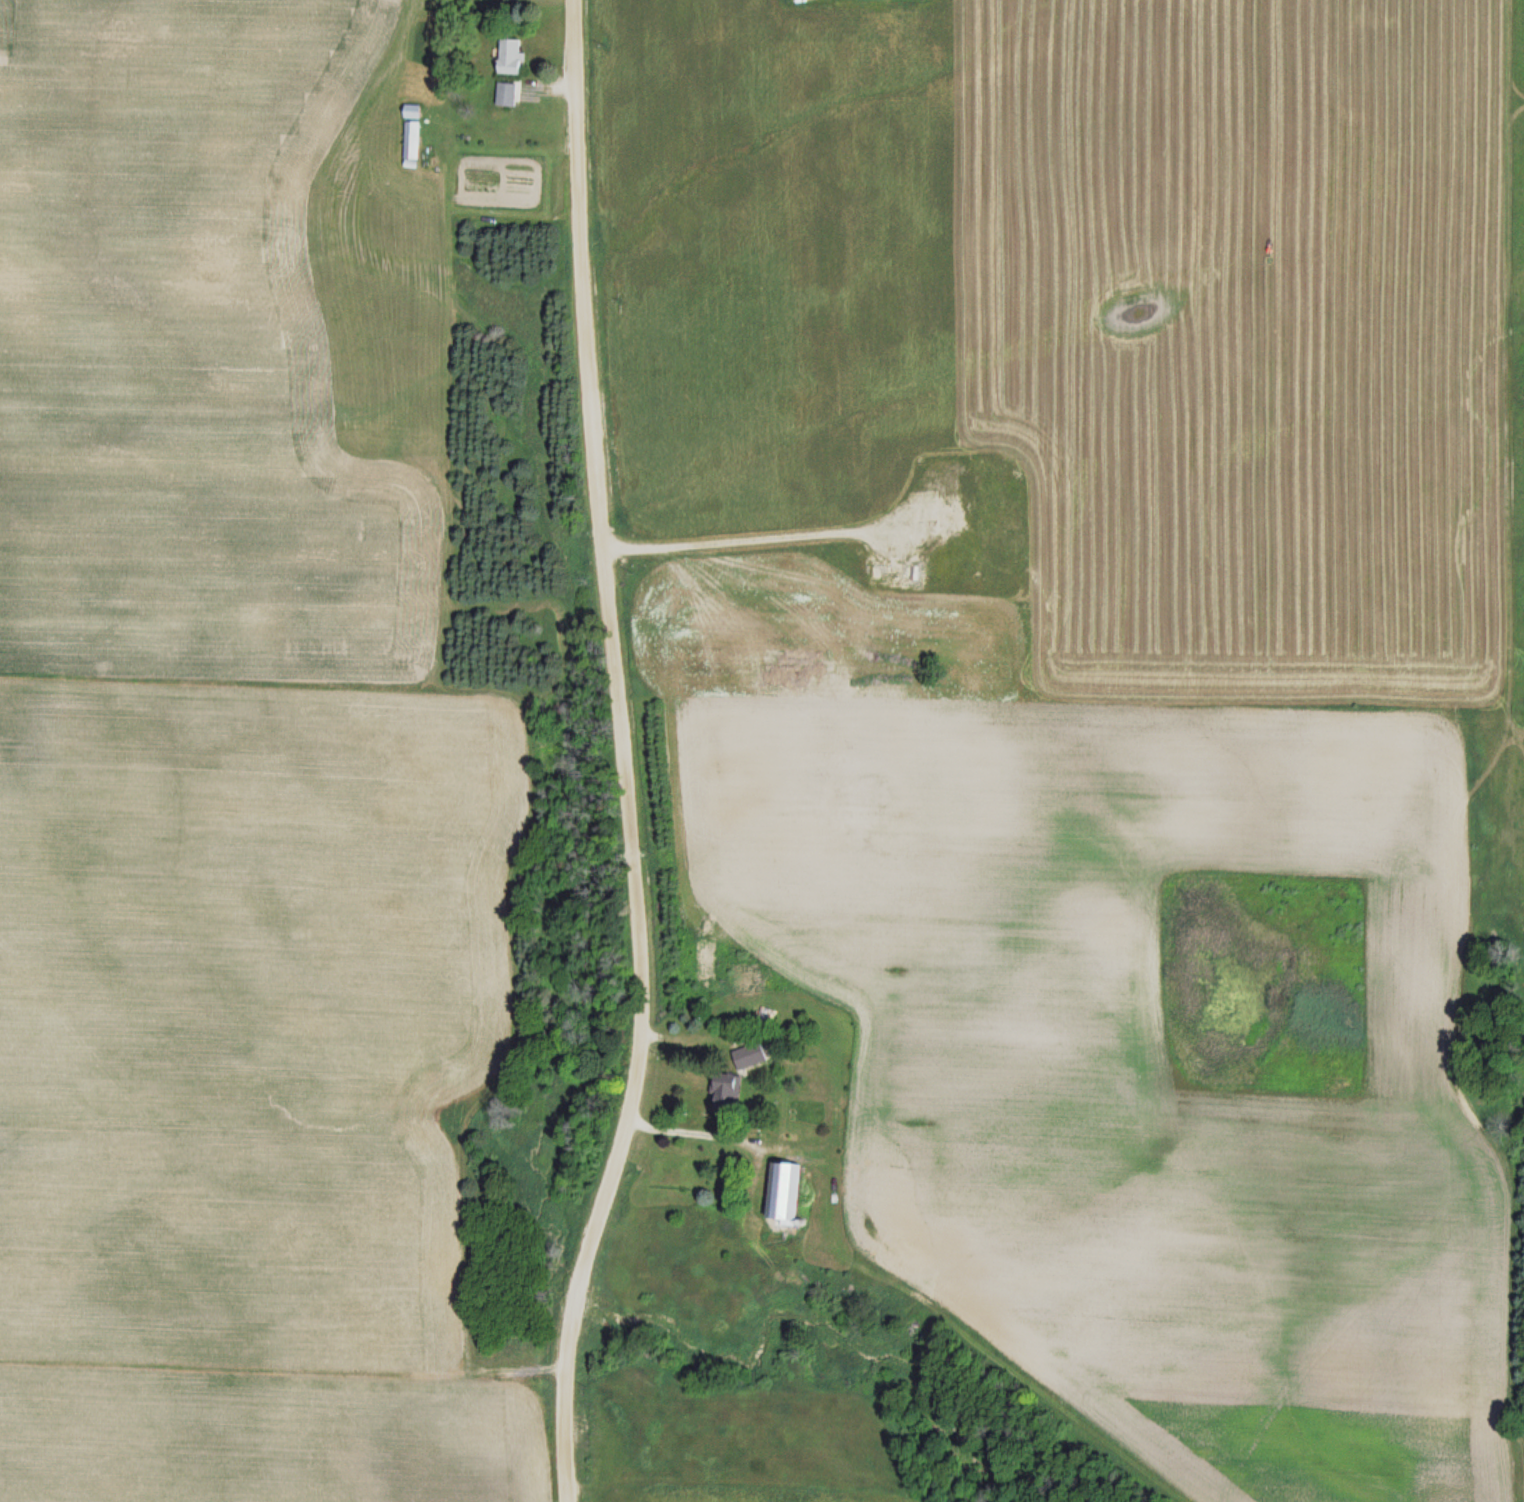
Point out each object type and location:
building: (509, 58)
building: (504, 96)
road: (623, 754)
building: (773, 1019)
building: (753, 1055)
building: (725, 1090)
building: (781, 1191)

